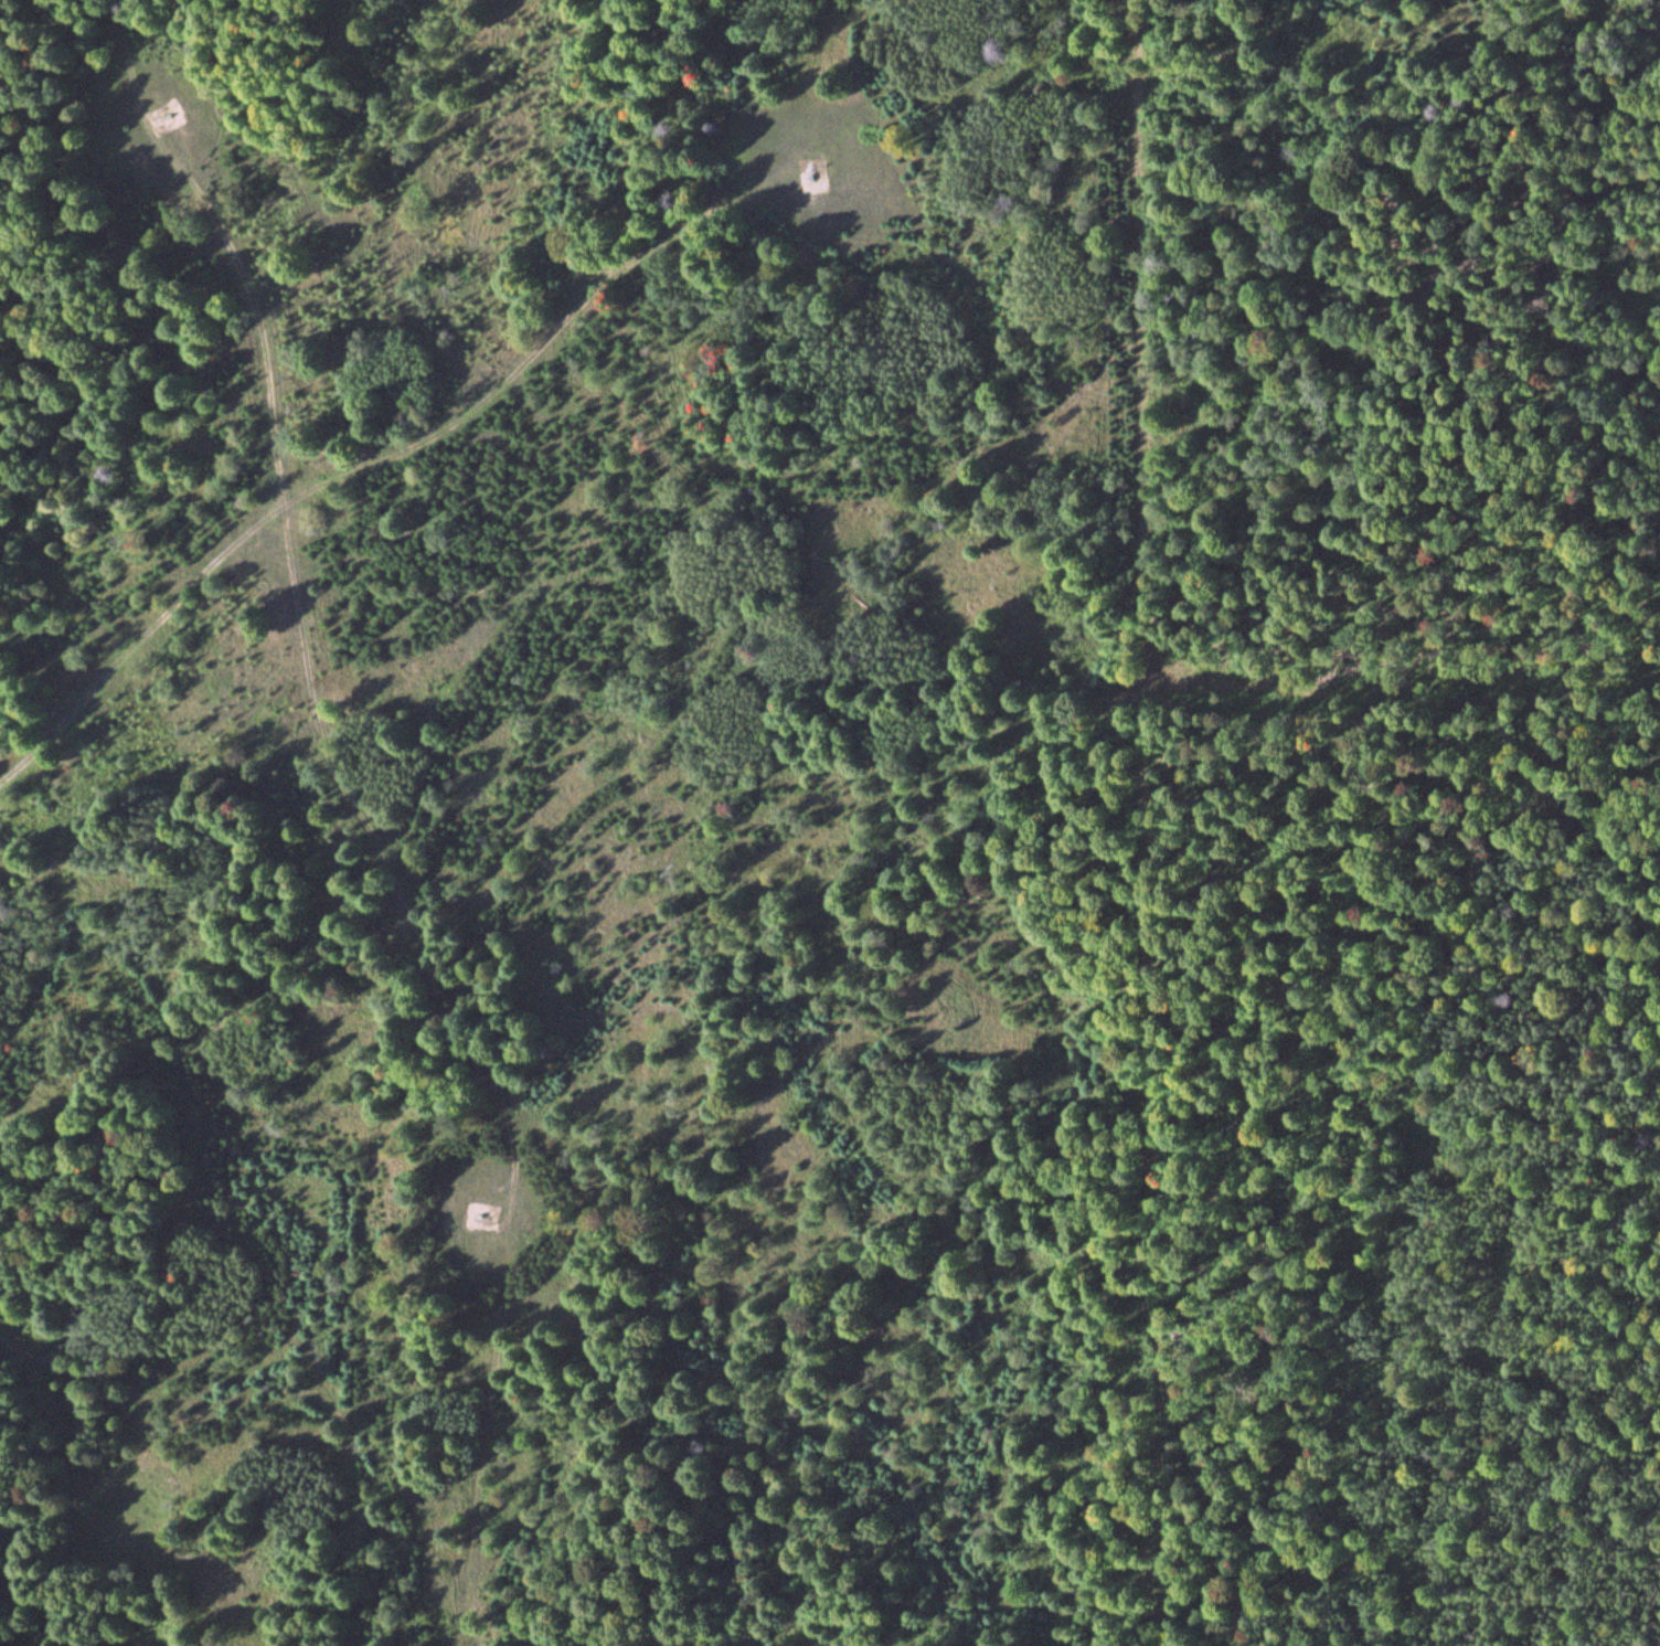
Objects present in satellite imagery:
road: (125, 668)
road: (1157, 822)

